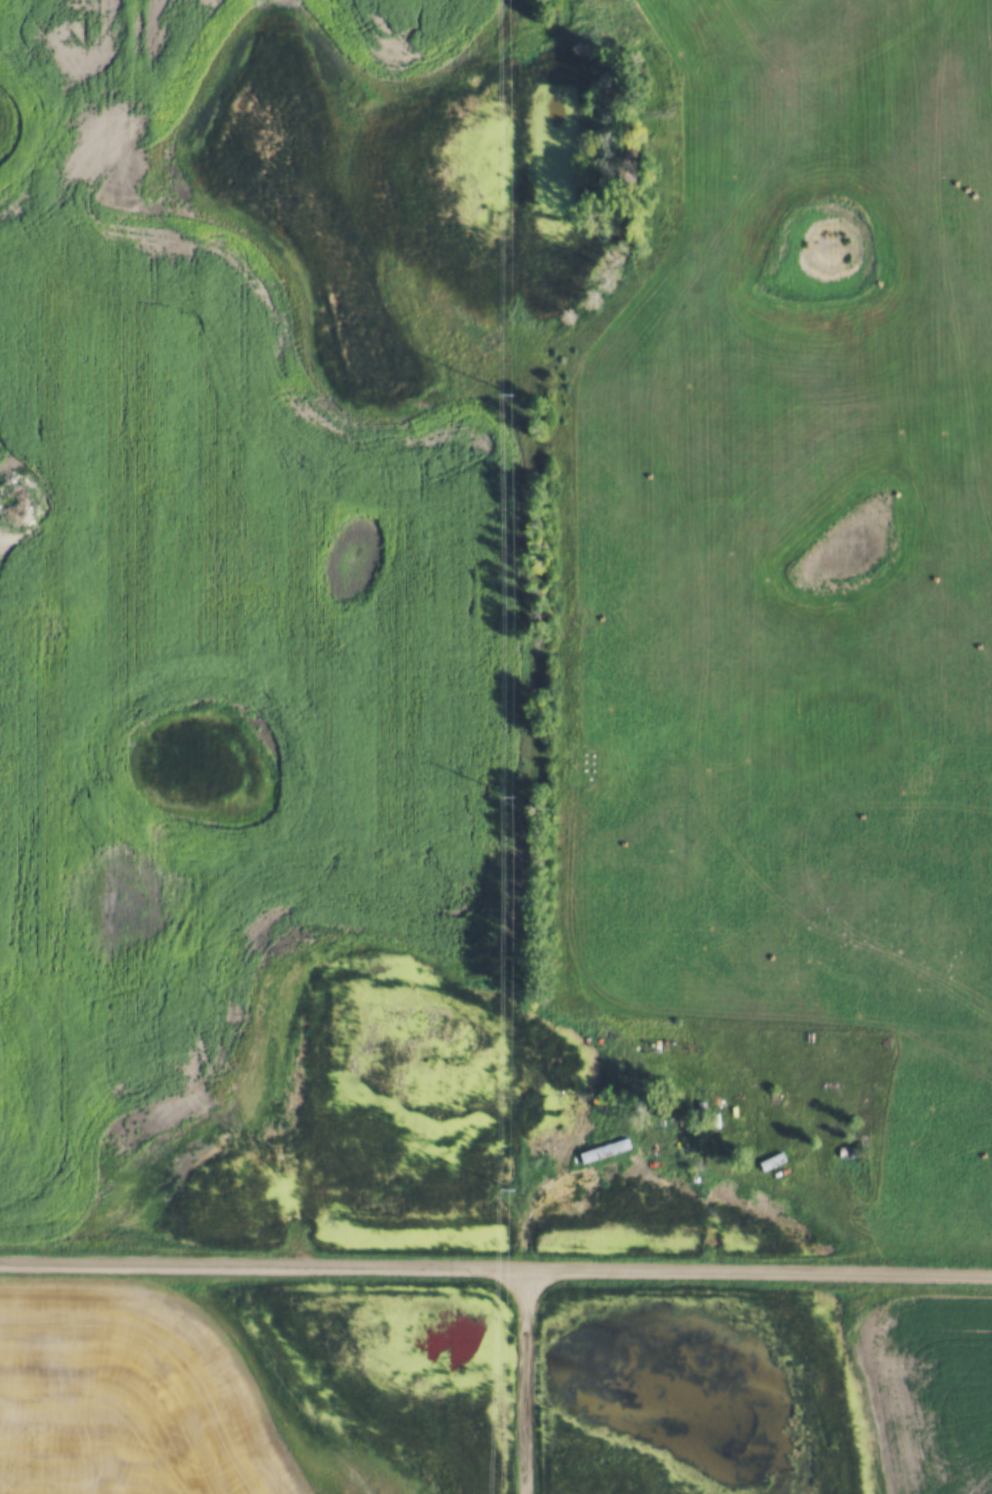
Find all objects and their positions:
building: (606, 1151)
building: (848, 1153)
building: (773, 1162)
road: (630, 1163)
road: (496, 1270)
road: (524, 1382)

